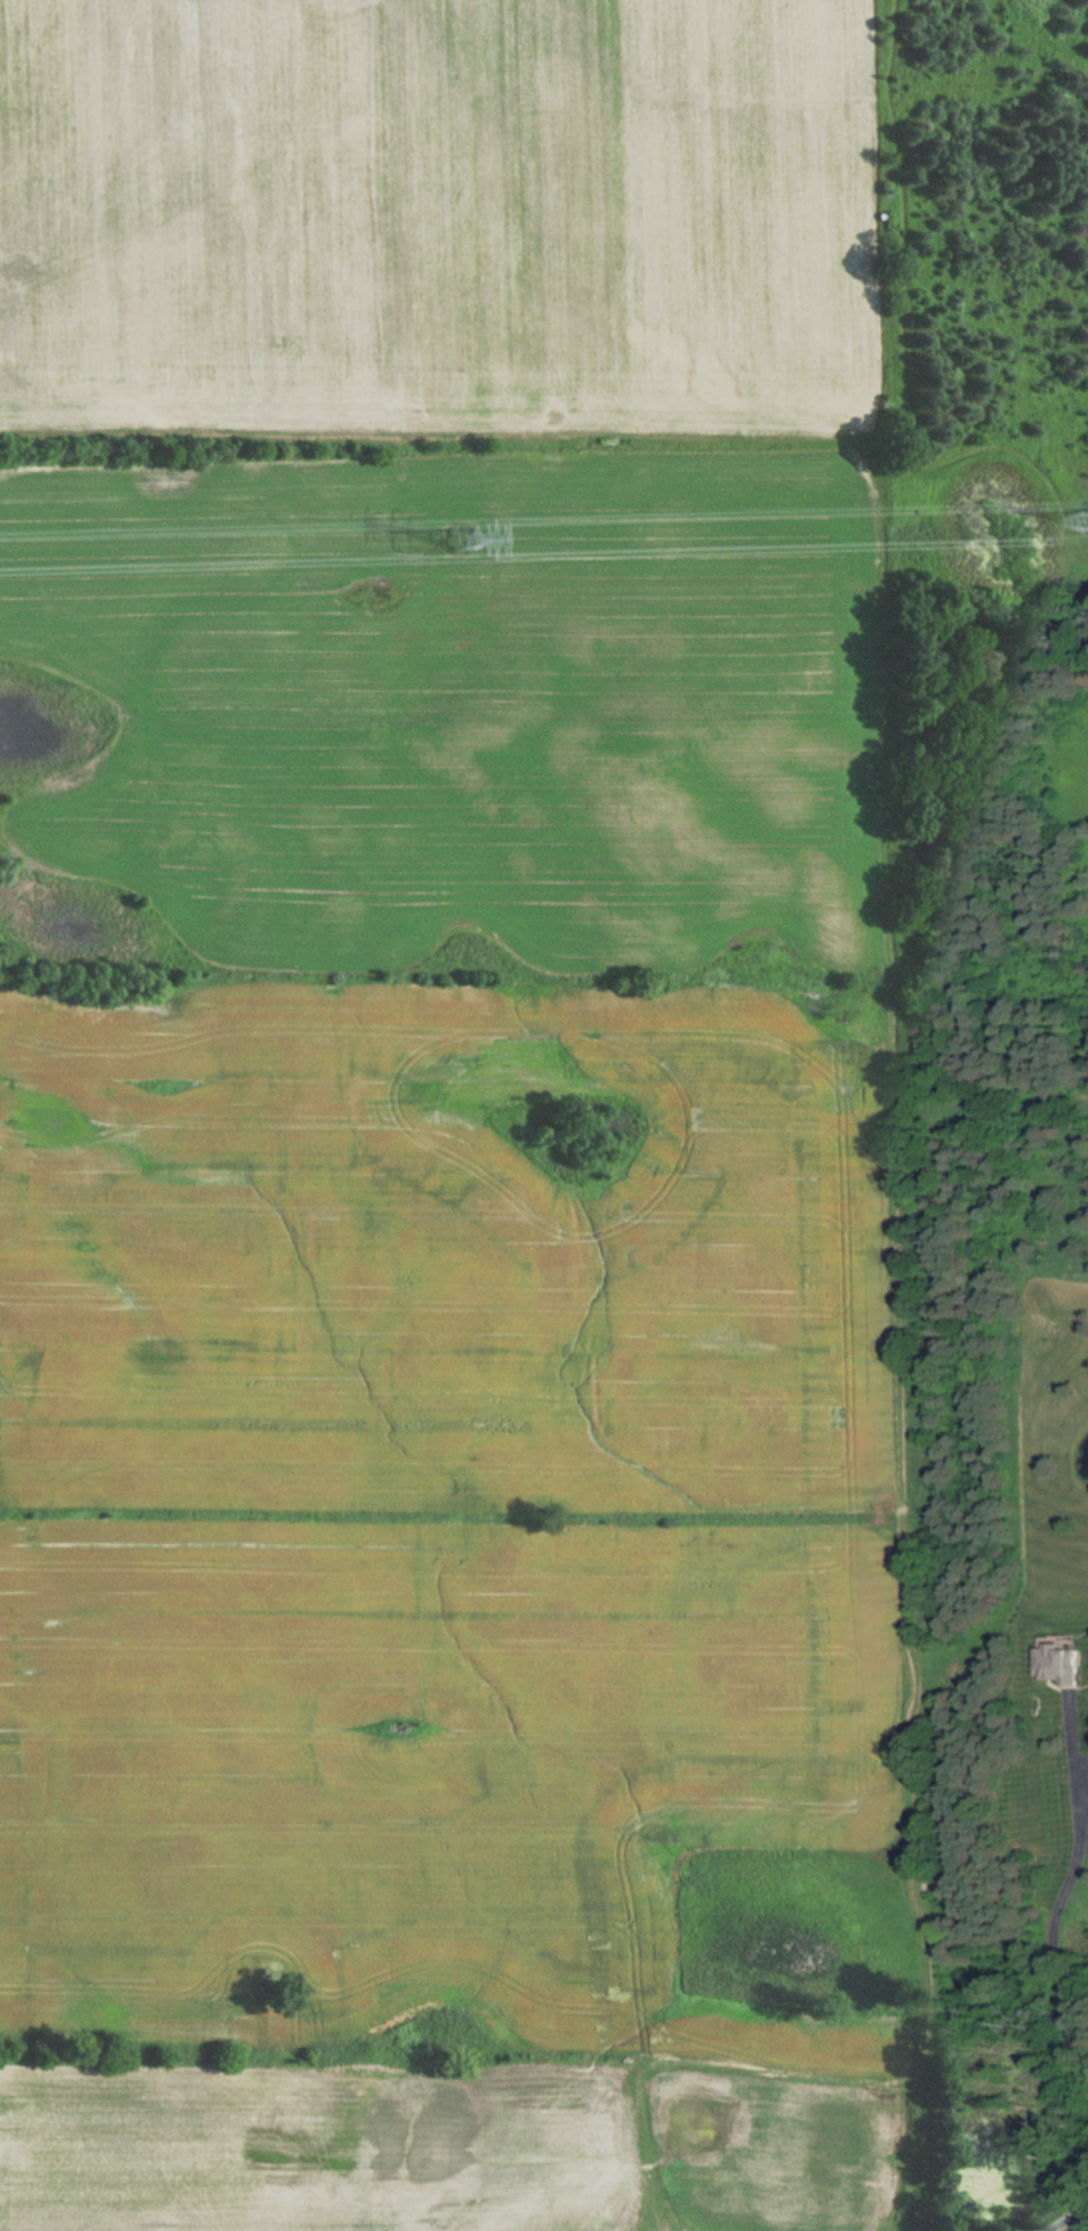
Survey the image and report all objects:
power tower: (459, 541)
building: (1059, 1664)
road: (1050, 1936)
road: (1072, 2222)

